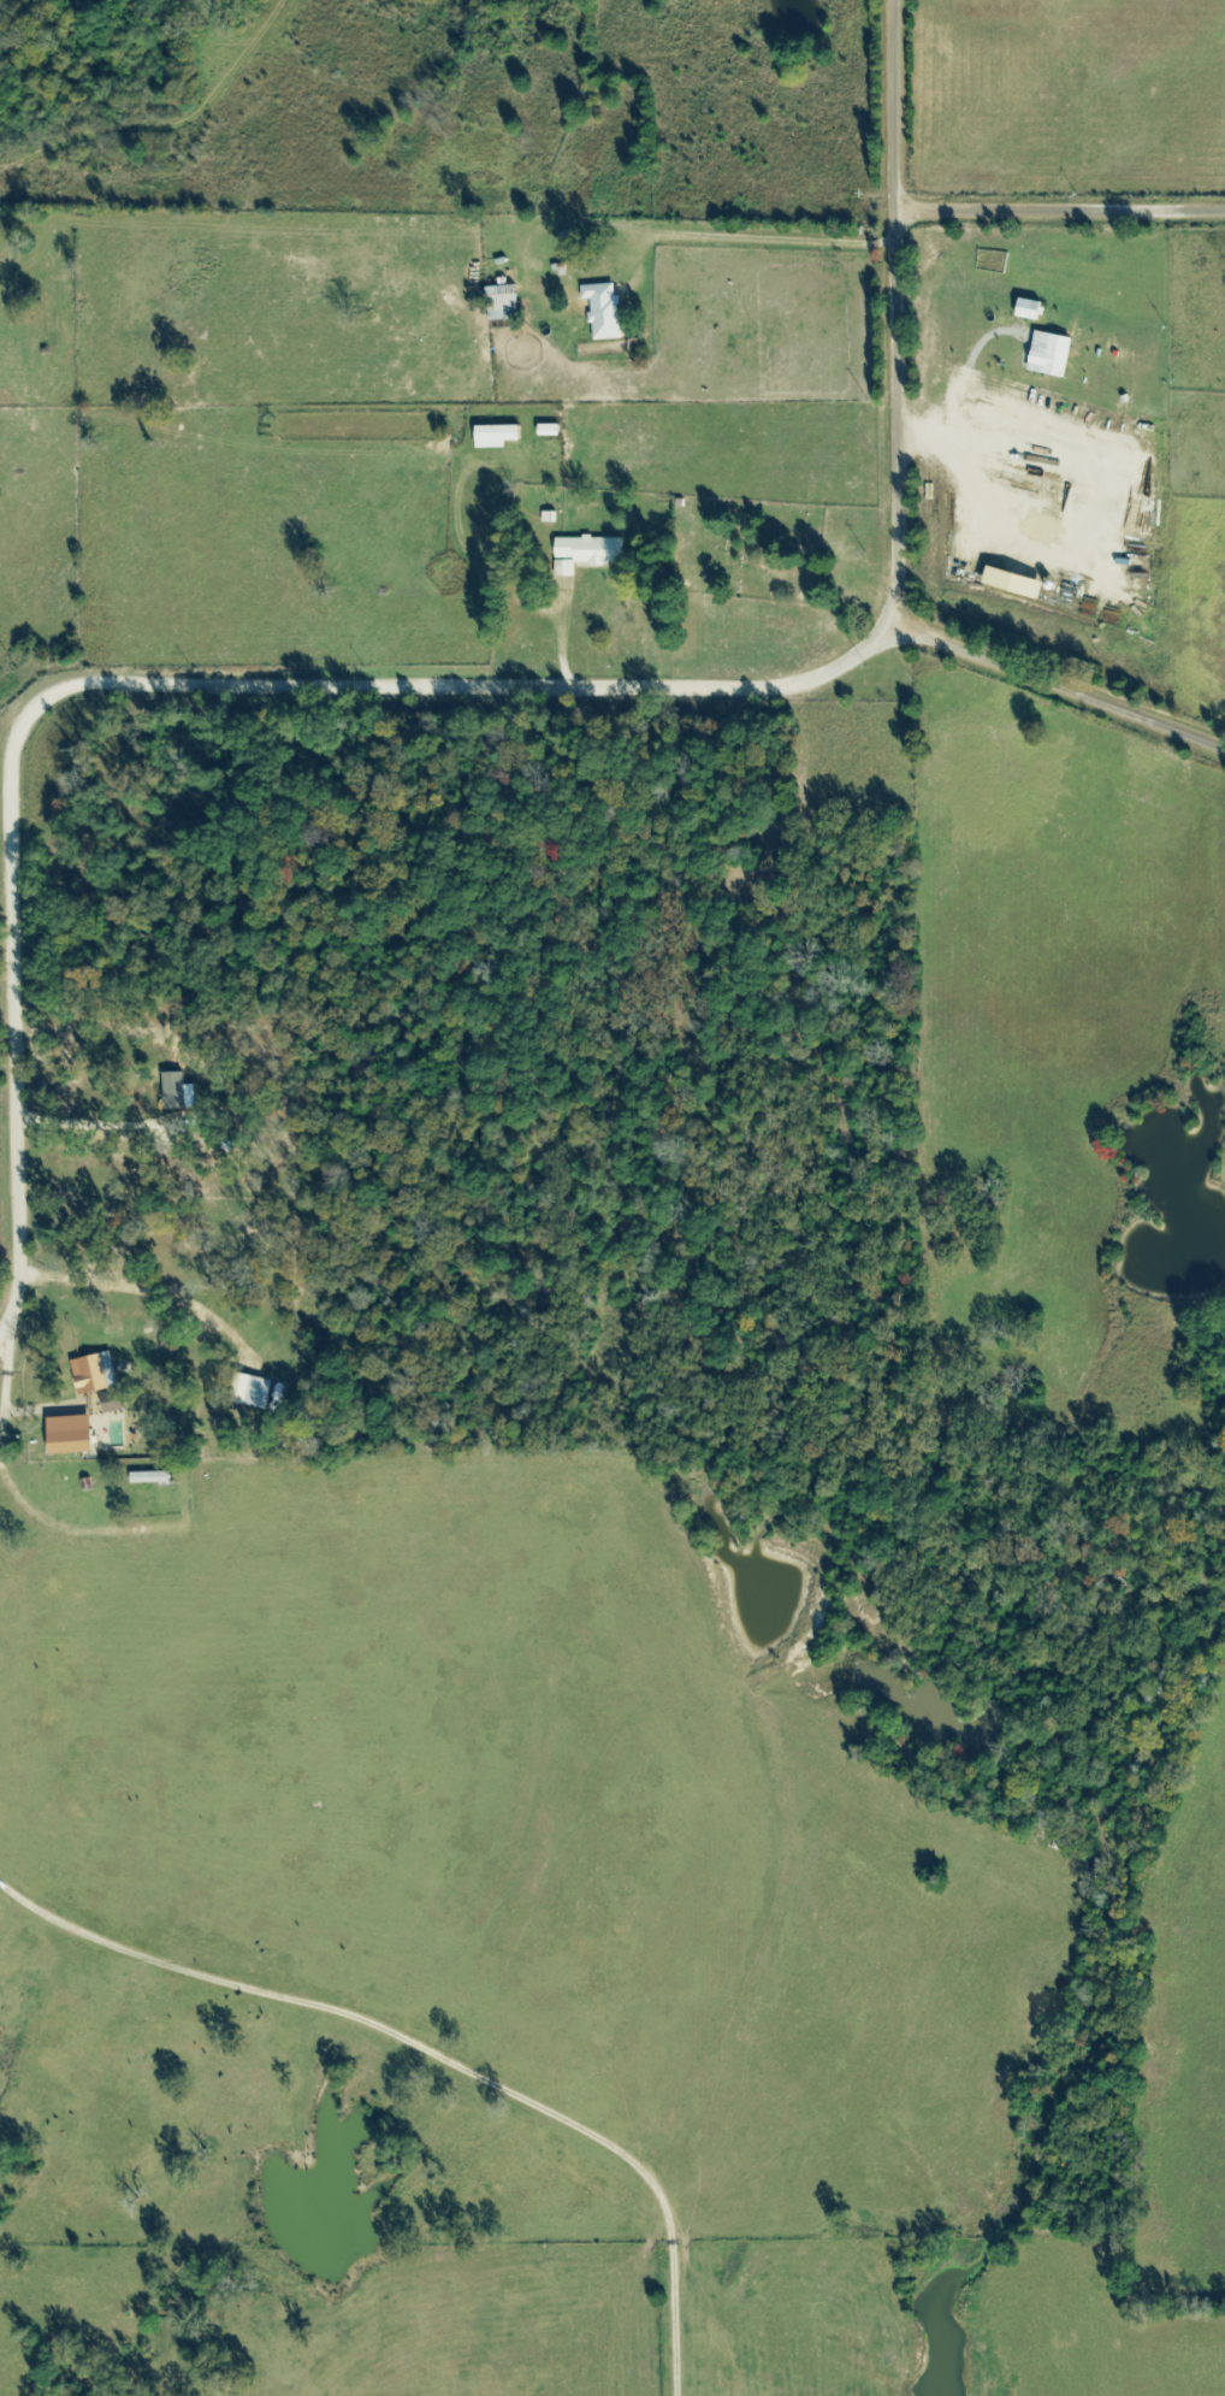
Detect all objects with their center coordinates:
road: (1065, 212)
building: (504, 305)
building: (606, 313)
building: (1053, 355)
building: (499, 437)
road: (907, 478)
park: (742, 550)
building: (590, 555)
road: (177, 685)
building: (182, 1093)
building: (96, 1375)
building: (254, 1392)
building: (116, 1401)
building: (75, 1436)
building: (152, 1479)

